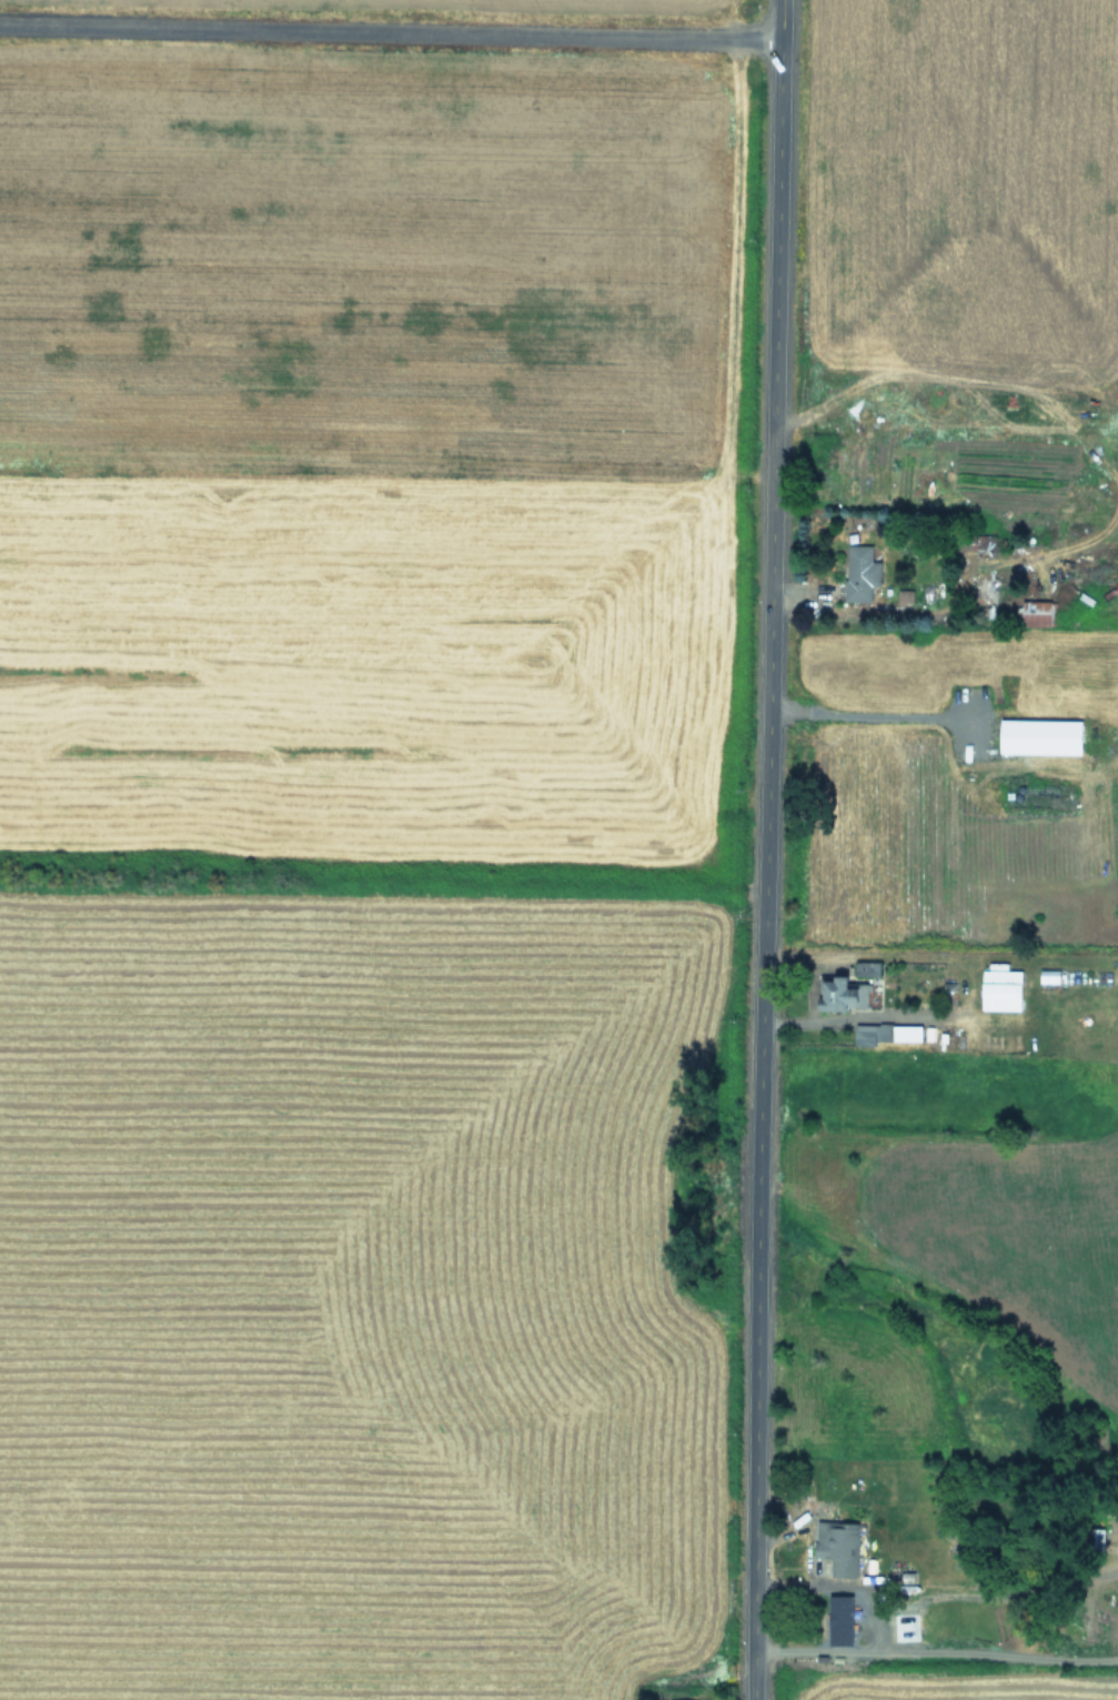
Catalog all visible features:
road: (387, 23)
building: (859, 572)
building: (903, 595)
building: (1036, 613)
road: (867, 715)
building: (1038, 736)
crop: (356, 846)
road: (757, 849)
crop: (955, 853)
building: (865, 968)
building: (998, 989)
building: (833, 994)
building: (883, 1033)
building: (836, 1547)
building: (837, 1620)

